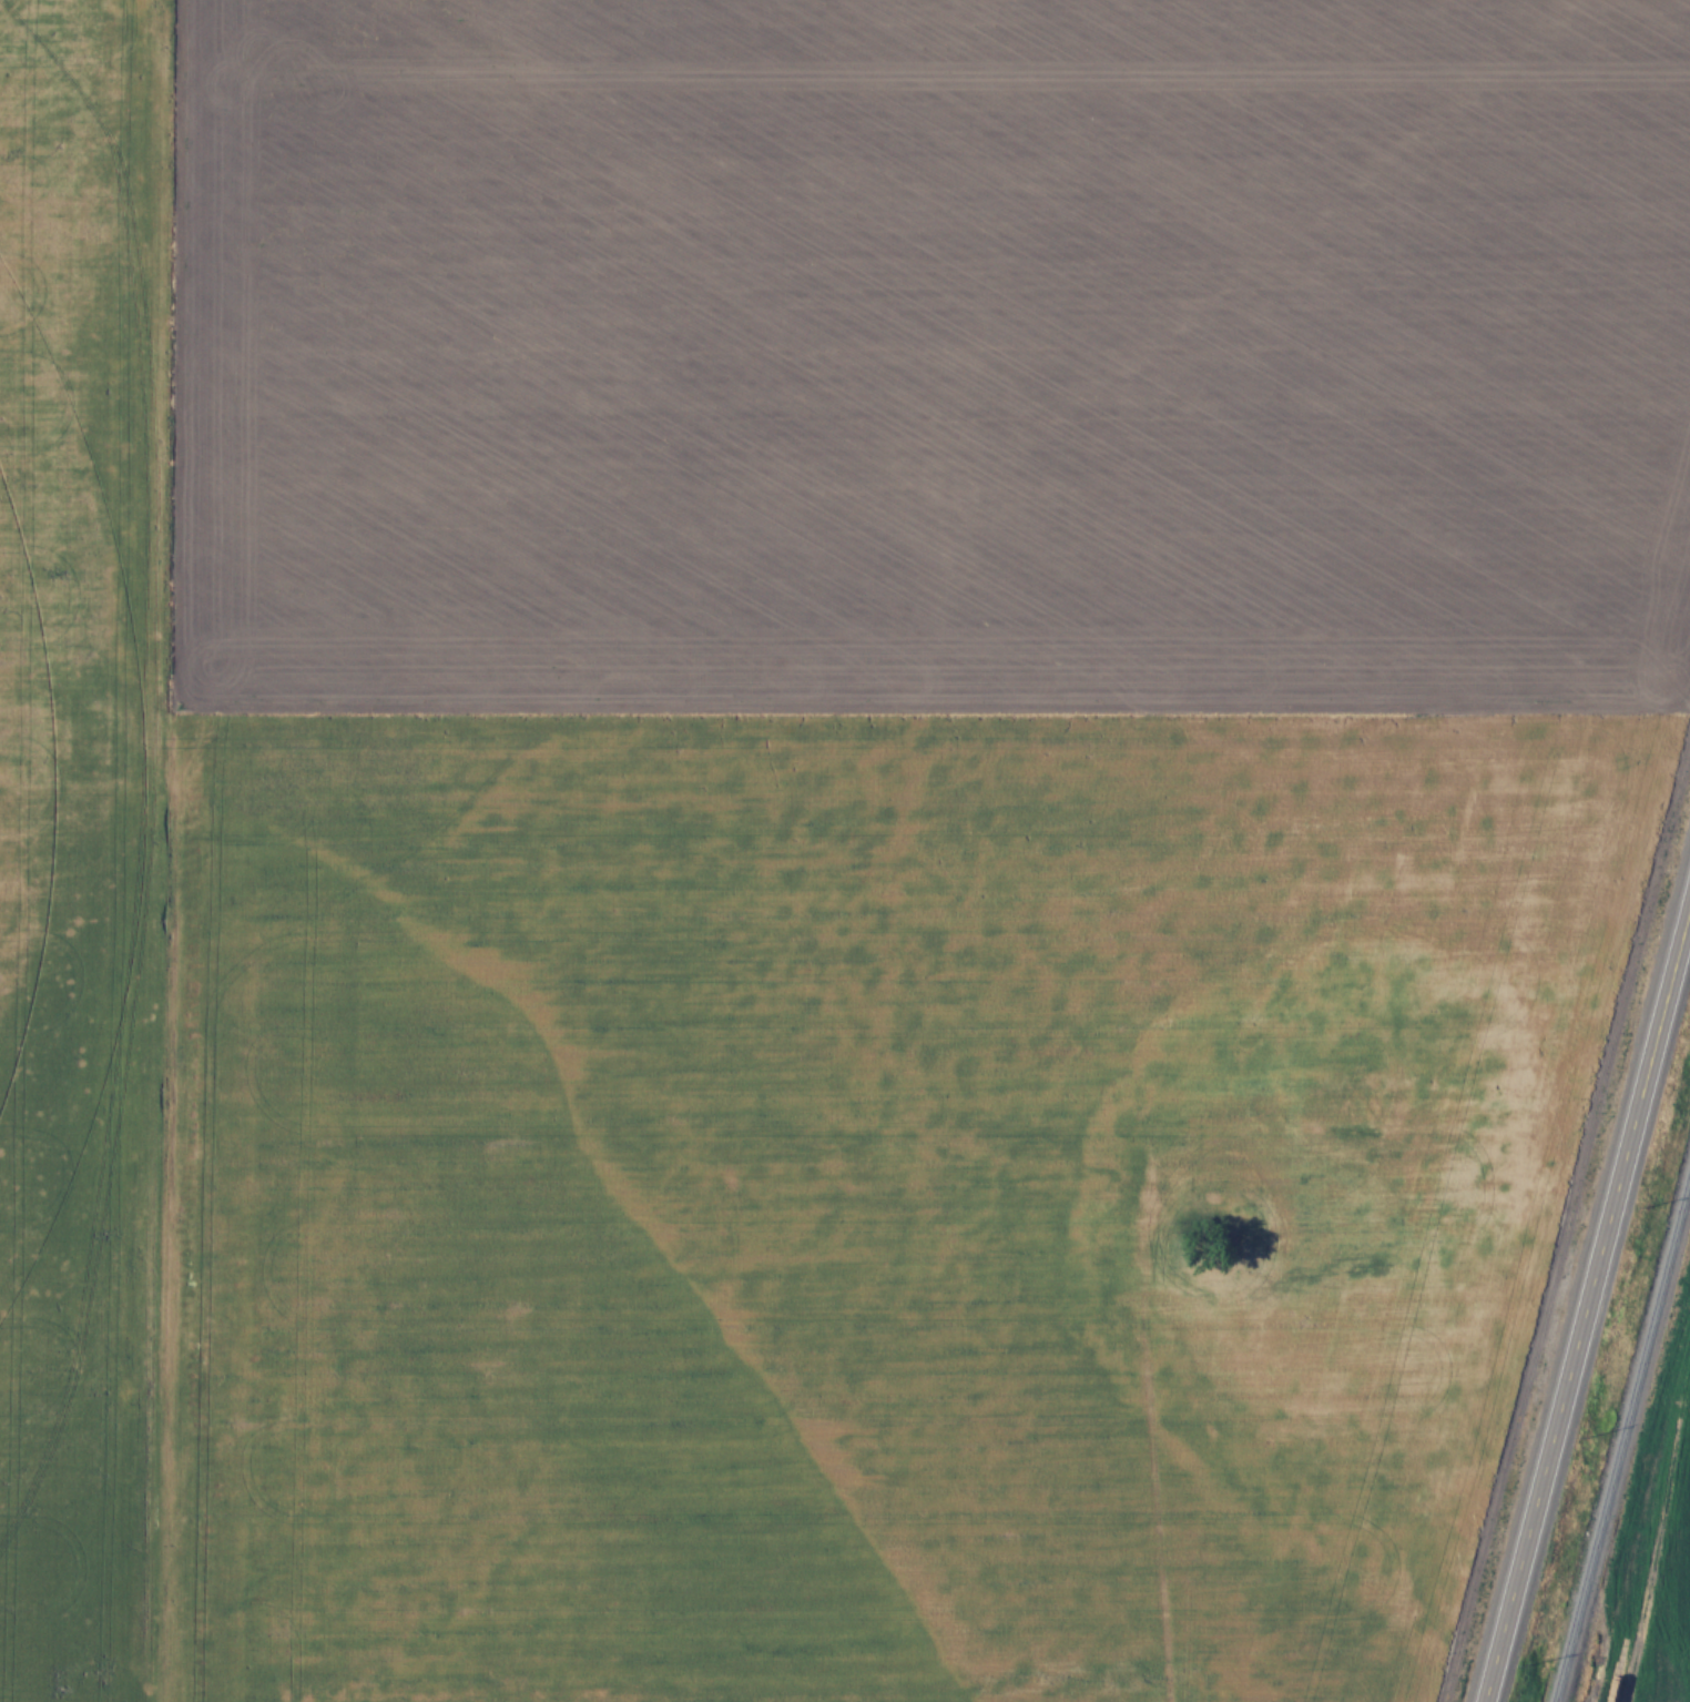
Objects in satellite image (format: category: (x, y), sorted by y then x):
road: (1588, 1308)
railway: (1622, 1438)

